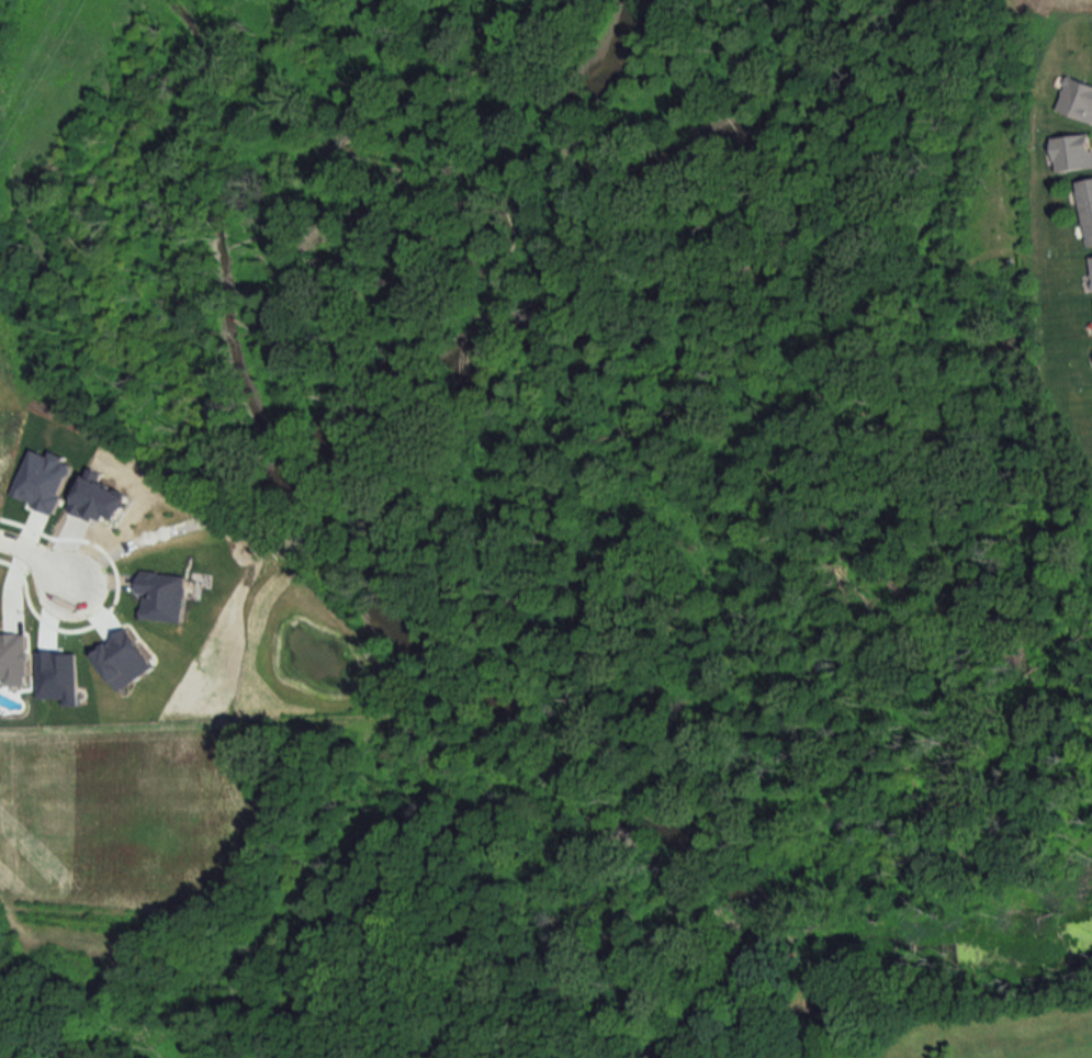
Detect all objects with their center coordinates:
building: (1087, 207)
river: (751, 277)
road: (42, 555)
river: (554, 777)
park: (926, 1027)

